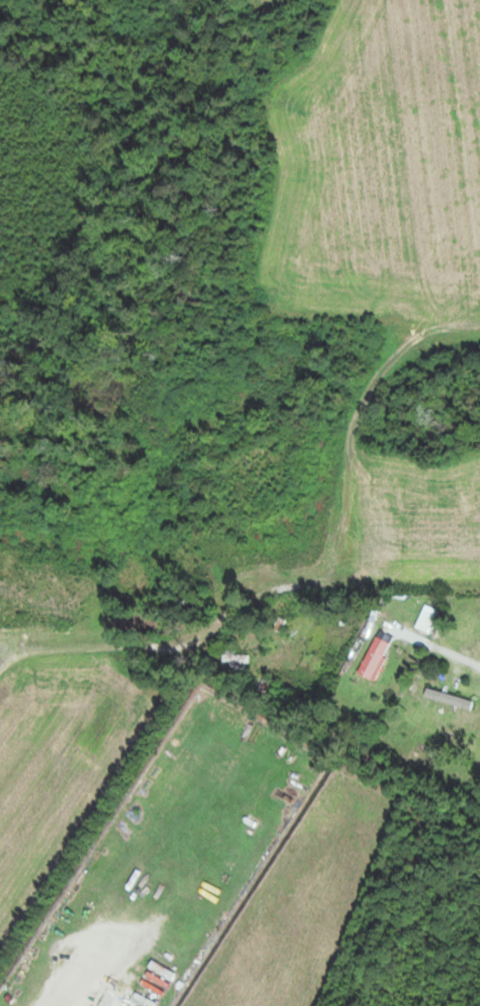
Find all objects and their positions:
building: (426, 618)
road: (109, 643)
road: (6, 645)
road: (441, 649)
building: (378, 654)
building: (236, 656)
building: (445, 695)

